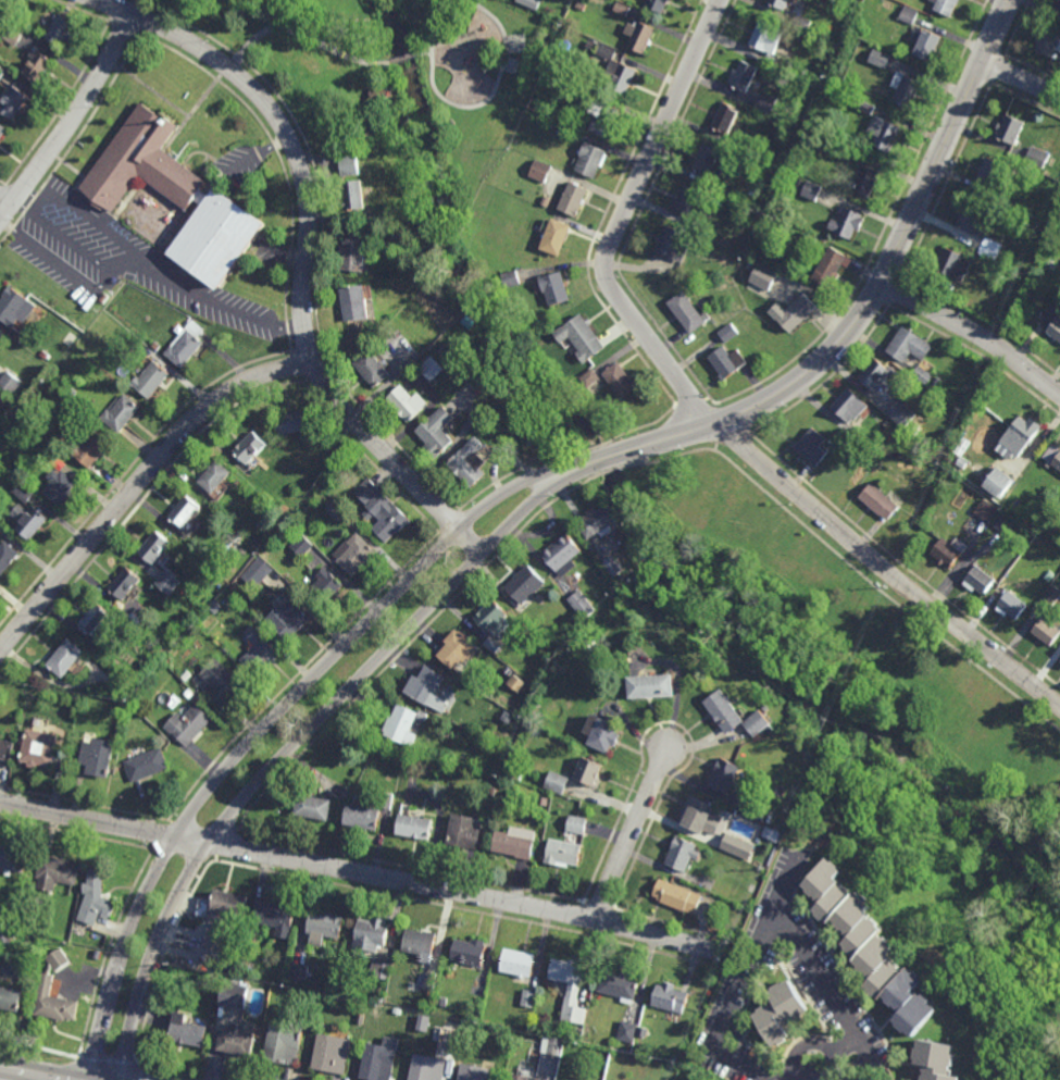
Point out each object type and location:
building: (527, 2)
building: (780, 3)
building: (579, 5)
building: (1056, 5)
building: (658, 7)
building: (944, 7)
building: (3, 8)
building: (621, 9)
building: (909, 15)
building: (801, 23)
road: (1017, 28)
building: (62, 33)
building: (12, 34)
road: (304, 39)
building: (640, 39)
building: (765, 39)
building: (1047, 46)
building: (922, 47)
road: (426, 51)
road: (407, 58)
building: (887, 63)
building: (783, 64)
building: (37, 67)
road: (1032, 69)
building: (1, 73)
park: (388, 75)
road: (1021, 77)
building: (622, 79)
building: (745, 79)
building: (903, 91)
building: (377, 94)
road: (1025, 99)
building: (14, 104)
building: (764, 104)
road: (474, 105)
building: (866, 108)
building: (552, 113)
building: (602, 120)
road: (71, 121)
building: (727, 121)
building: (565, 131)
building: (1007, 131)
building: (2, 134)
building: (790, 134)
building: (883, 134)
building: (1036, 157)
building: (744, 159)
building: (711, 161)
building: (591, 162)
building: (144, 163)
building: (350, 165)
building: (539, 171)
building: (988, 171)
road: (948, 182)
building: (870, 183)
building: (810, 189)
building: (357, 194)
road: (29, 199)
building: (719, 199)
building: (545, 201)
building: (575, 201)
building: (689, 201)
road: (5, 203)
road: (607, 208)
road: (640, 210)
building: (1028, 213)
road: (619, 220)
building: (971, 220)
building: (849, 224)
road: (884, 229)
building: (222, 238)
building: (557, 238)
building: (810, 239)
building: (706, 244)
building: (673, 245)
building: (990, 248)
road: (82, 250)
building: (357, 250)
building: (1050, 252)
road: (305, 257)
building: (749, 263)
road: (59, 265)
building: (951, 265)
building: (832, 268)
road: (161, 271)
building: (1009, 276)
building: (762, 277)
building: (511, 280)
building: (554, 288)
road: (874, 291)
building: (103, 297)
building: (357, 302)
building: (15, 306)
building: (687, 312)
building: (799, 314)
building: (469, 322)
road: (987, 323)
building: (1050, 323)
road: (974, 332)
building: (727, 333)
building: (582, 337)
building: (1, 339)
building: (907, 345)
building: (186, 346)
building: (43, 355)
building: (109, 355)
road: (978, 355)
building: (729, 361)
building: (374, 368)
building: (429, 369)
building: (922, 374)
building: (876, 376)
building: (589, 377)
road: (827, 378)
building: (152, 380)
building: (621, 381)
building: (10, 382)
building: (935, 383)
building: (71, 393)
building: (408, 402)
road: (695, 405)
building: (848, 409)
building: (122, 413)
building: (900, 414)
building: (497, 418)
road: (732, 419)
building: (292, 423)
road: (695, 425)
building: (1, 426)
road: (640, 427)
building: (438, 430)
building: (914, 430)
building: (860, 436)
building: (1017, 436)
building: (968, 437)
road: (732, 439)
building: (811, 447)
building: (91, 448)
building: (251, 448)
road: (593, 448)
building: (941, 457)
road: (668, 459)
road: (600, 460)
building: (961, 461)
building: (470, 462)
building: (1056, 465)
road: (515, 471)
road: (608, 472)
building: (215, 476)
building: (998, 482)
road: (138, 483)
building: (61, 486)
building: (22, 492)
building: (1015, 502)
building: (876, 504)
building: (337, 509)
building: (382, 510)
building: (985, 510)
building: (186, 511)
building: (30, 520)
building: (598, 520)
road: (450, 522)
building: (1006, 524)
building: (257, 539)
building: (300, 545)
building: (155, 547)
building: (947, 551)
building: (562, 554)
building: (222, 555)
building: (357, 555)
building: (7, 557)
building: (611, 566)
road: (901, 566)
road: (885, 568)
building: (255, 572)
building: (1050, 574)
building: (977, 581)
building: (167, 582)
building: (126, 583)
building: (328, 583)
building: (525, 584)
road: (883, 591)
building: (1051, 595)
building: (579, 604)
building: (215, 607)
building: (1008, 607)
building: (494, 618)
building: (289, 619)
building: (97, 620)
building: (1045, 633)
building: (588, 641)
building: (491, 644)
road: (407, 646)
building: (458, 648)
building: (259, 651)
building: (632, 653)
building: (66, 659)
building: (1058, 665)
road: (298, 674)
building: (222, 683)
building: (515, 683)
building: (653, 685)
building: (429, 686)
building: (726, 710)
building: (765, 710)
building: (498, 711)
building: (423, 717)
road: (273, 718)
building: (758, 723)
building: (402, 724)
building: (188, 725)
building: (154, 731)
building: (603, 732)
road: (302, 737)
building: (5, 749)
building: (40, 749)
building: (98, 757)
building: (146, 767)
building: (588, 770)
building: (724, 774)
building: (514, 778)
building: (554, 784)
building: (489, 793)
building: (1057, 795)
building: (540, 803)
building: (314, 807)
building: (757, 810)
building: (364, 816)
building: (701, 816)
building: (575, 821)
building: (414, 827)
building: (462, 830)
road: (163, 835)
road: (634, 835)
building: (514, 841)
road: (226, 843)
building: (737, 846)
building: (563, 852)
building: (683, 854)
building: (12, 860)
building: (55, 873)
road: (359, 873)
road: (789, 885)
building: (722, 887)
building: (678, 896)
building: (96, 898)
building: (228, 903)
building: (277, 918)
road: (775, 919)
building: (326, 926)
building: (371, 933)
building: (14, 935)
building: (3, 939)
building: (215, 939)
building: (420, 944)
road: (108, 946)
building: (869, 946)
road: (164, 952)
building: (471, 952)
building: (97, 954)
building: (58, 959)
building: (517, 961)
building: (229, 964)
building: (377, 968)
building: (297, 970)
building: (280, 976)
building: (215, 977)
building: (427, 983)
building: (619, 985)
building: (570, 989)
building: (299, 993)
building: (234, 994)
building: (378, 997)
building: (527, 997)
building: (12, 998)
building: (670, 998)
building: (53, 1000)
building: (439, 1001)
building: (396, 1010)
building: (778, 1010)
building: (358, 1018)
building: (251, 1025)
building: (188, 1030)
building: (626, 1030)
building: (446, 1036)
building: (508, 1036)
building: (239, 1041)
building: (285, 1042)
building: (638, 1043)
road: (811, 1044)
building: (512, 1046)
building: (550, 1046)
building: (331, 1053)
building: (935, 1059)
building: (379, 1060)
building: (424, 1068)
building: (474, 1072)
road: (29, 1073)
building: (520, 1078)

